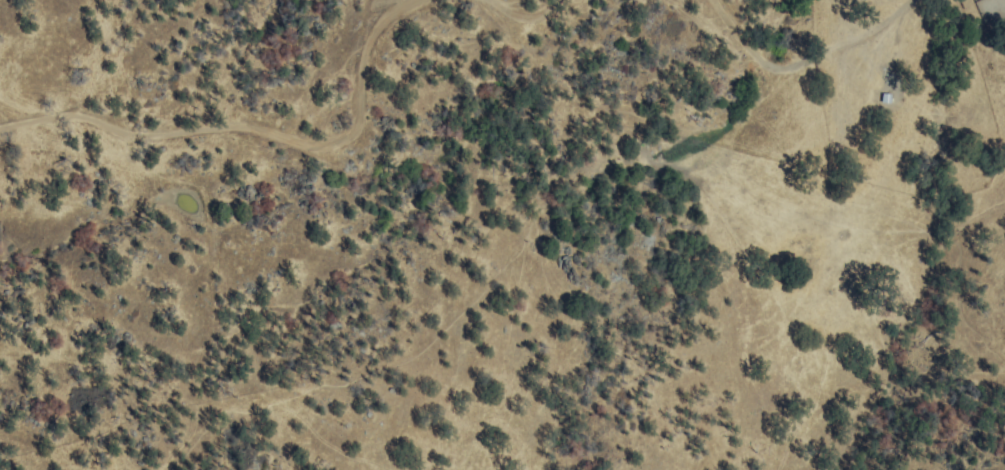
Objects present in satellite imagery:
road: (999, 128)

